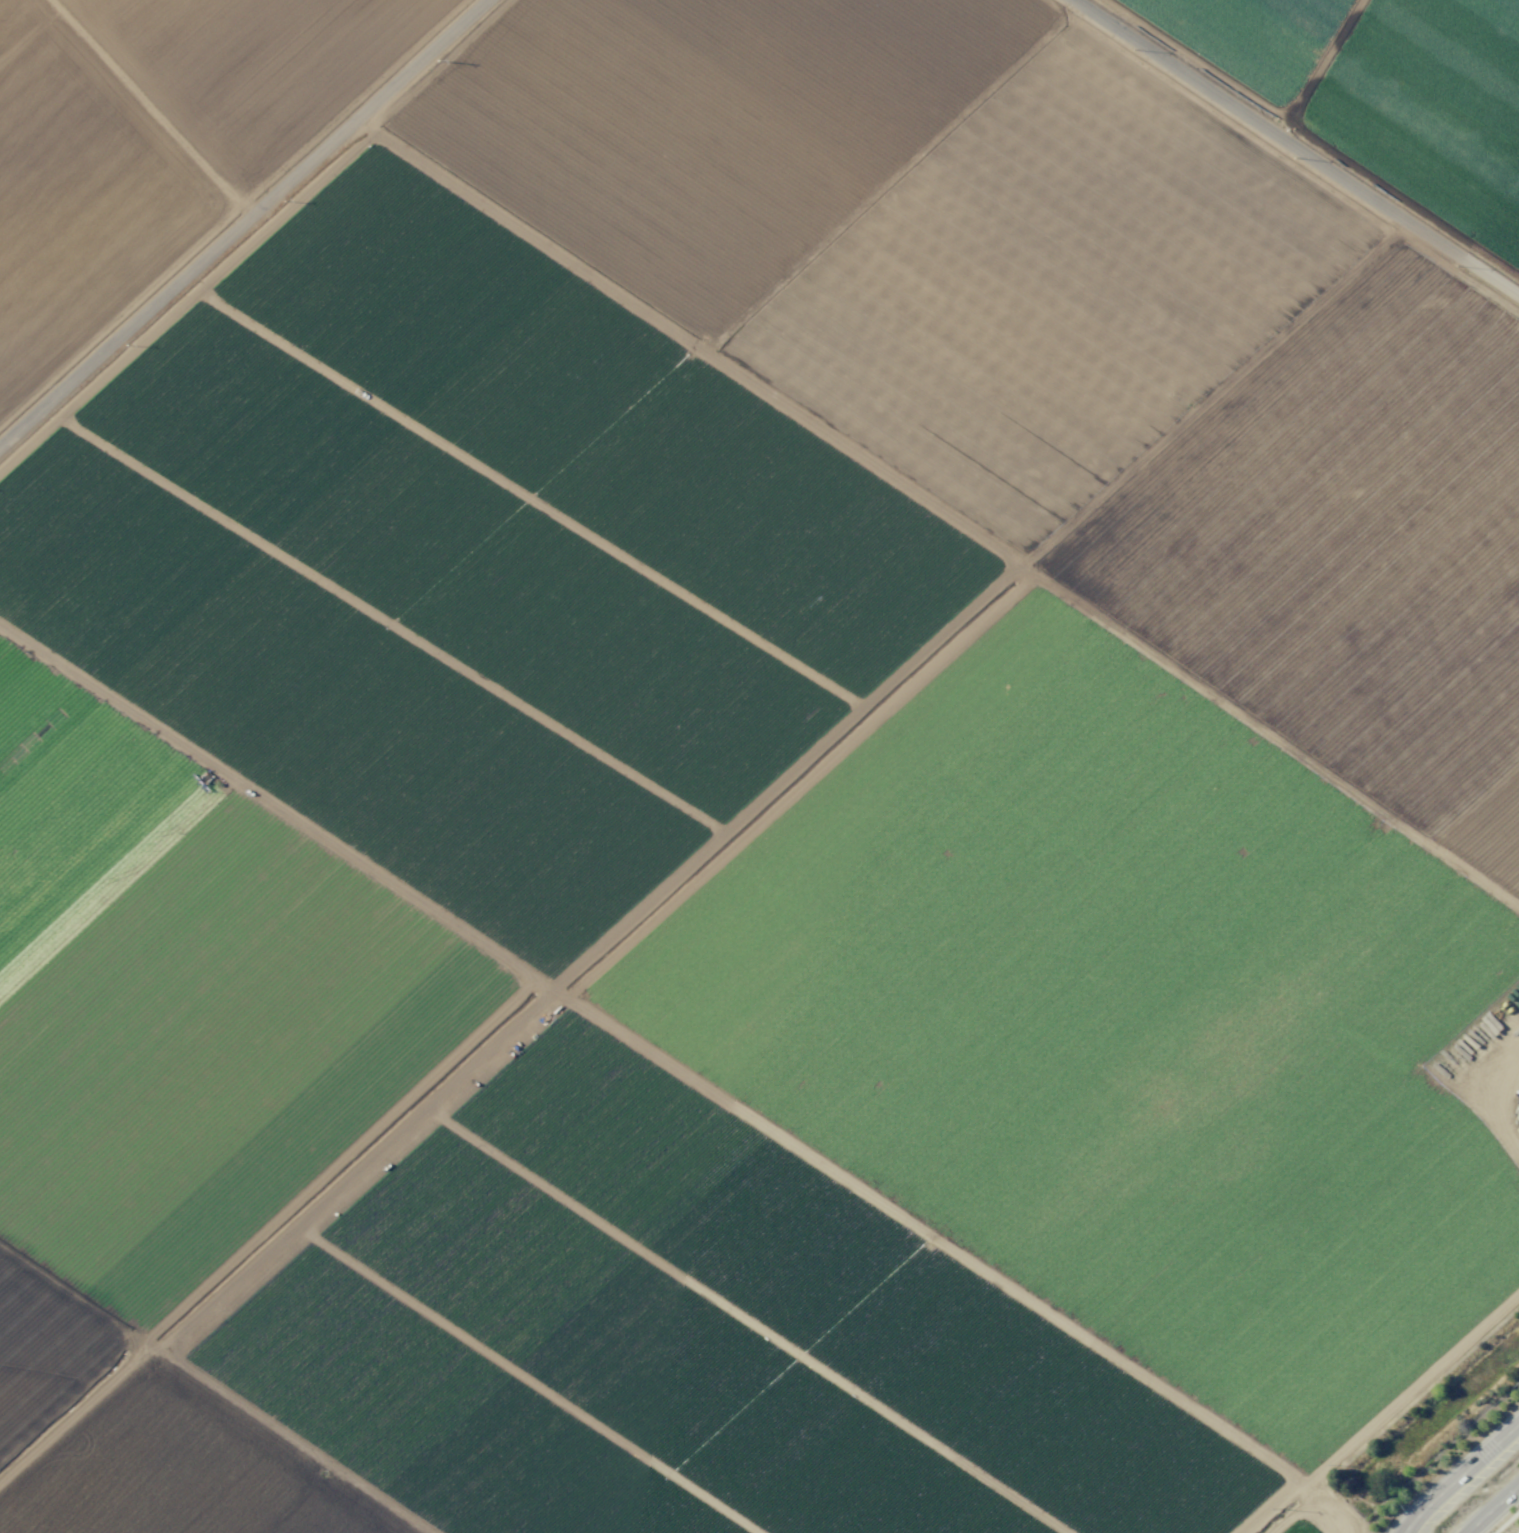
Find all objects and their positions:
road: (1512, 3)
road: (1325, 60)
road: (111, 104)
road: (1314, 138)
road: (1297, 148)
road: (234, 212)
road: (243, 224)
crop: (747, 756)
road: (1459, 1476)
road: (1492, 1509)
road: (1305, 1510)

